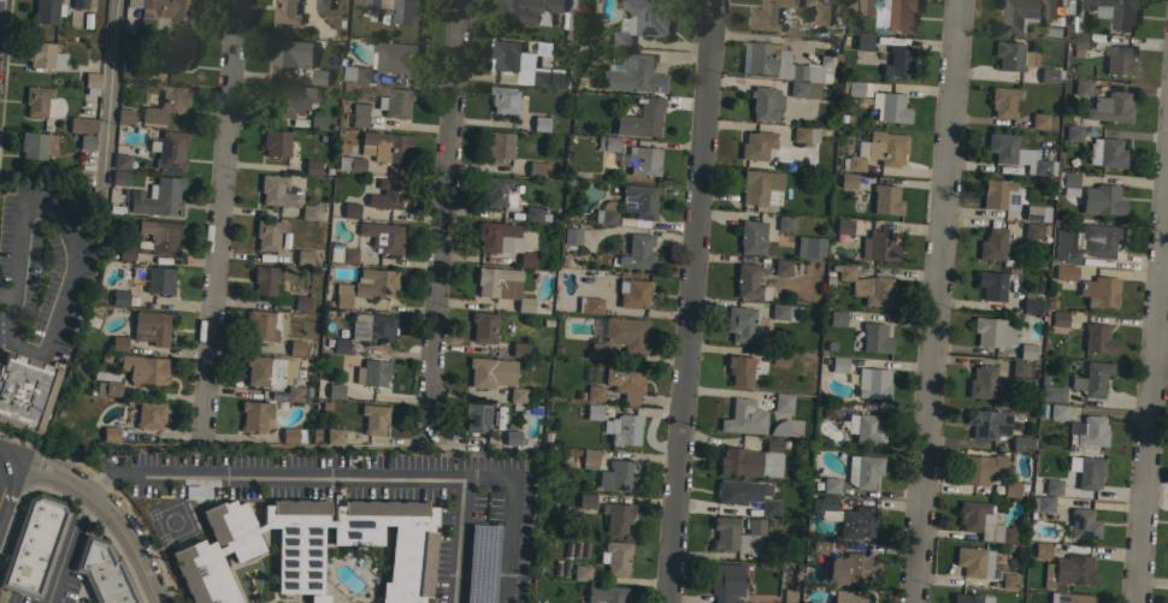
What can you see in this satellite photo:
building: (78, 4)
building: (322, 4)
building: (372, 4)
building: (164, 8)
building: (529, 10)
building: (46, 11)
rooftop solar panel: (1004, 11)
building: (1114, 11)
building: (287, 12)
building: (403, 12)
building: (821, 13)
building: (887, 13)
building: (1021, 13)
rooftop solar panel: (1031, 13)
building: (768, 14)
building: (641, 19)
rooftop solar panel: (1017, 20)
rooftop solar panel: (1010, 30)
building: (1054, 32)
building: (1080, 41)
building: (862, 42)
building: (290, 53)
building: (178, 54)
building: (503, 54)
building: (45, 55)
building: (1011, 55)
building: (384, 60)
building: (1117, 60)
building: (898, 61)
building: (787, 64)
building: (128, 70)
building: (633, 75)
building: (1049, 75)
building: (319, 76)
building: (541, 77)
building: (556, 77)
building: (92, 79)
building: (1081, 88)
building: (797, 89)
road: (111, 93)
building: (503, 99)
building: (288, 100)
building: (879, 100)
building: (1003, 101)
building: (42, 102)
building: (395, 102)
building: (765, 102)
building: (165, 105)
building: (1109, 107)
building: (358, 114)
building: (124, 116)
building: (641, 119)
building: (824, 119)
building: (1039, 120)
building: (315, 122)
building: (541, 123)
building: (82, 124)
building: (1073, 132)
building: (804, 134)
building: (85, 141)
building: (275, 142)
building: (607, 143)
building: (33, 144)
building: (497, 144)
building: (756, 144)
building: (384, 147)
building: (1001, 147)
building: (878, 149)
building: (167, 150)
building: (1107, 153)
building: (642, 160)
building: (120, 161)
building: (349, 164)
building: (312, 166)
building: (1040, 167)
building: (535, 169)
building: (119, 177)
building: (846, 179)
building: (1067, 183)
building: (761, 188)
building: (495, 190)
building: (276, 191)
building: (385, 194)
building: (1002, 194)
building: (158, 197)
rooftop solar panel: (627, 200)
building: (638, 200)
building: (885, 200)
building: (1101, 200)
rooftop solar panel: (627, 205)
building: (350, 209)
building: (308, 212)
building: (1036, 212)
building: (531, 213)
building: (606, 213)
road: (220, 219)
road: (442, 223)
building: (785, 223)
building: (842, 229)
building: (1032, 230)
building: (266, 233)
building: (158, 236)
building: (382, 236)
building: (571, 236)
building: (751, 237)
building: (502, 240)
building: (1099, 240)
building: (992, 244)
building: (1064, 246)
building: (809, 247)
building: (878, 247)
building: (637, 252)
building: (125, 253)
building: (343, 254)
building: (303, 256)
road: (73, 261)
building: (781, 267)
building: (1063, 272)
building: (158, 279)
building: (264, 279)
building: (374, 283)
building: (749, 283)
building: (991, 284)
building: (502, 285)
building: (867, 286)
building: (1099, 291)
road: (4, 292)
building: (633, 294)
building: (342, 295)
building: (119, 297)
road: (691, 301)
road: (934, 301)
building: (301, 302)
building: (1032, 302)
building: (589, 305)
building: (778, 312)
building: (836, 318)
building: (1058, 318)
rooftop solar panel: (356, 321)
building: (739, 323)
building: (261, 325)
building: (371, 326)
building: (483, 326)
building: (151, 327)
rooftop solar panel: (359, 329)
rooftop solar panel: (372, 329)
building: (995, 332)
rooftop solar panel: (358, 335)
building: (620, 336)
rooftop solar panel: (377, 337)
building: (874, 338)
building: (1096, 338)
building: (118, 343)
building: (340, 344)
building: (295, 348)
building: (519, 349)
building: (1026, 351)
building: (779, 356)
building: (838, 365)
building: (142, 368)
building: (1017, 368)
building: (739, 370)
road: (1152, 370)
building: (269, 371)
building: (490, 372)
building: (372, 373)
building: (1091, 378)
building: (106, 380)
building: (624, 380)
building: (981, 382)
building: (872, 383)
building: (24, 390)
building: (335, 390)
building: (294, 392)
building: (594, 392)
building: (1051, 394)
building: (517, 395)
building: (783, 401)
building: (830, 410)
building: (592, 412)
building: (1056, 412)
building: (144, 414)
building: (254, 415)
rooftop solar panel: (482, 415)
building: (373, 418)
rooftop solar panel: (470, 418)
building: (476, 418)
building: (743, 418)
building: (987, 422)
building: (609, 425)
building: (779, 427)
building: (863, 427)
building: (626, 430)
building: (1087, 431)
building: (110, 433)
building: (291, 434)
building: (334, 436)
building: (511, 437)
building: (1020, 443)
road: (10, 456)
building: (589, 459)
building: (751, 460)
building: (980, 468)
building: (862, 469)
building: (1086, 471)
building: (620, 473)
road: (371, 477)
road: (100, 481)
building: (830, 485)
building: (1051, 486)
road: (10, 489)
building: (1010, 489)
building: (741, 491)
building: (585, 501)
building: (821, 503)
building: (1042, 503)
building: (769, 507)
road: (112, 508)
building: (617, 516)
building: (857, 522)
building: (983, 522)
building: (1083, 524)
building: (755, 526)
building: (726, 534)
road: (461, 540)
building: (33, 545)
road: (70, 546)
building: (309, 546)
building: (819, 549)
building: (1040, 550)
building: (614, 557)
building: (973, 561)
building: (851, 567)
building: (1070, 569)
building: (102, 572)
building: (580, 573)
building: (726, 580)
building: (1008, 580)
building: (476, 593)
building: (604, 593)
building: (849, 597)
building: (969, 598)
building: (1073, 598)

